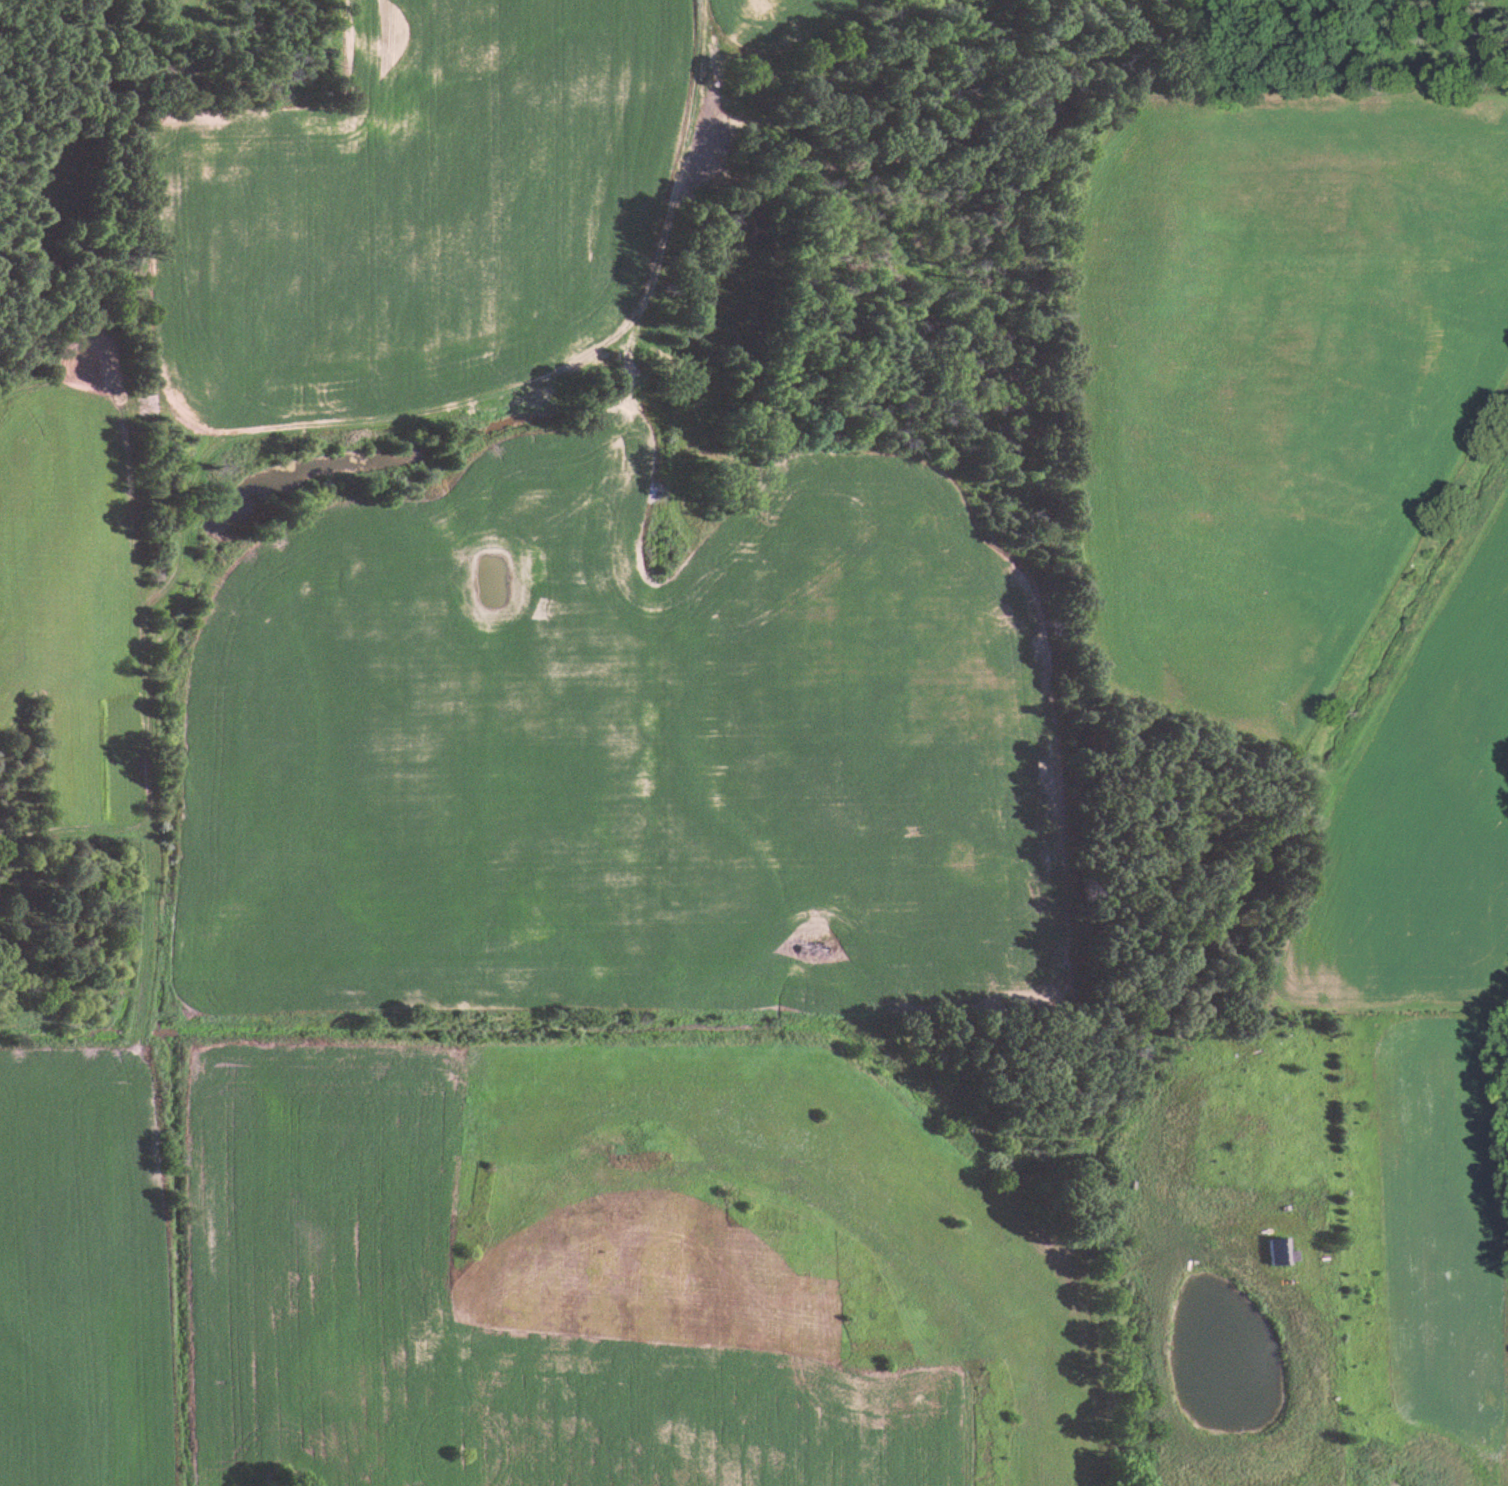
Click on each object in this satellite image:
building: (1281, 1252)

